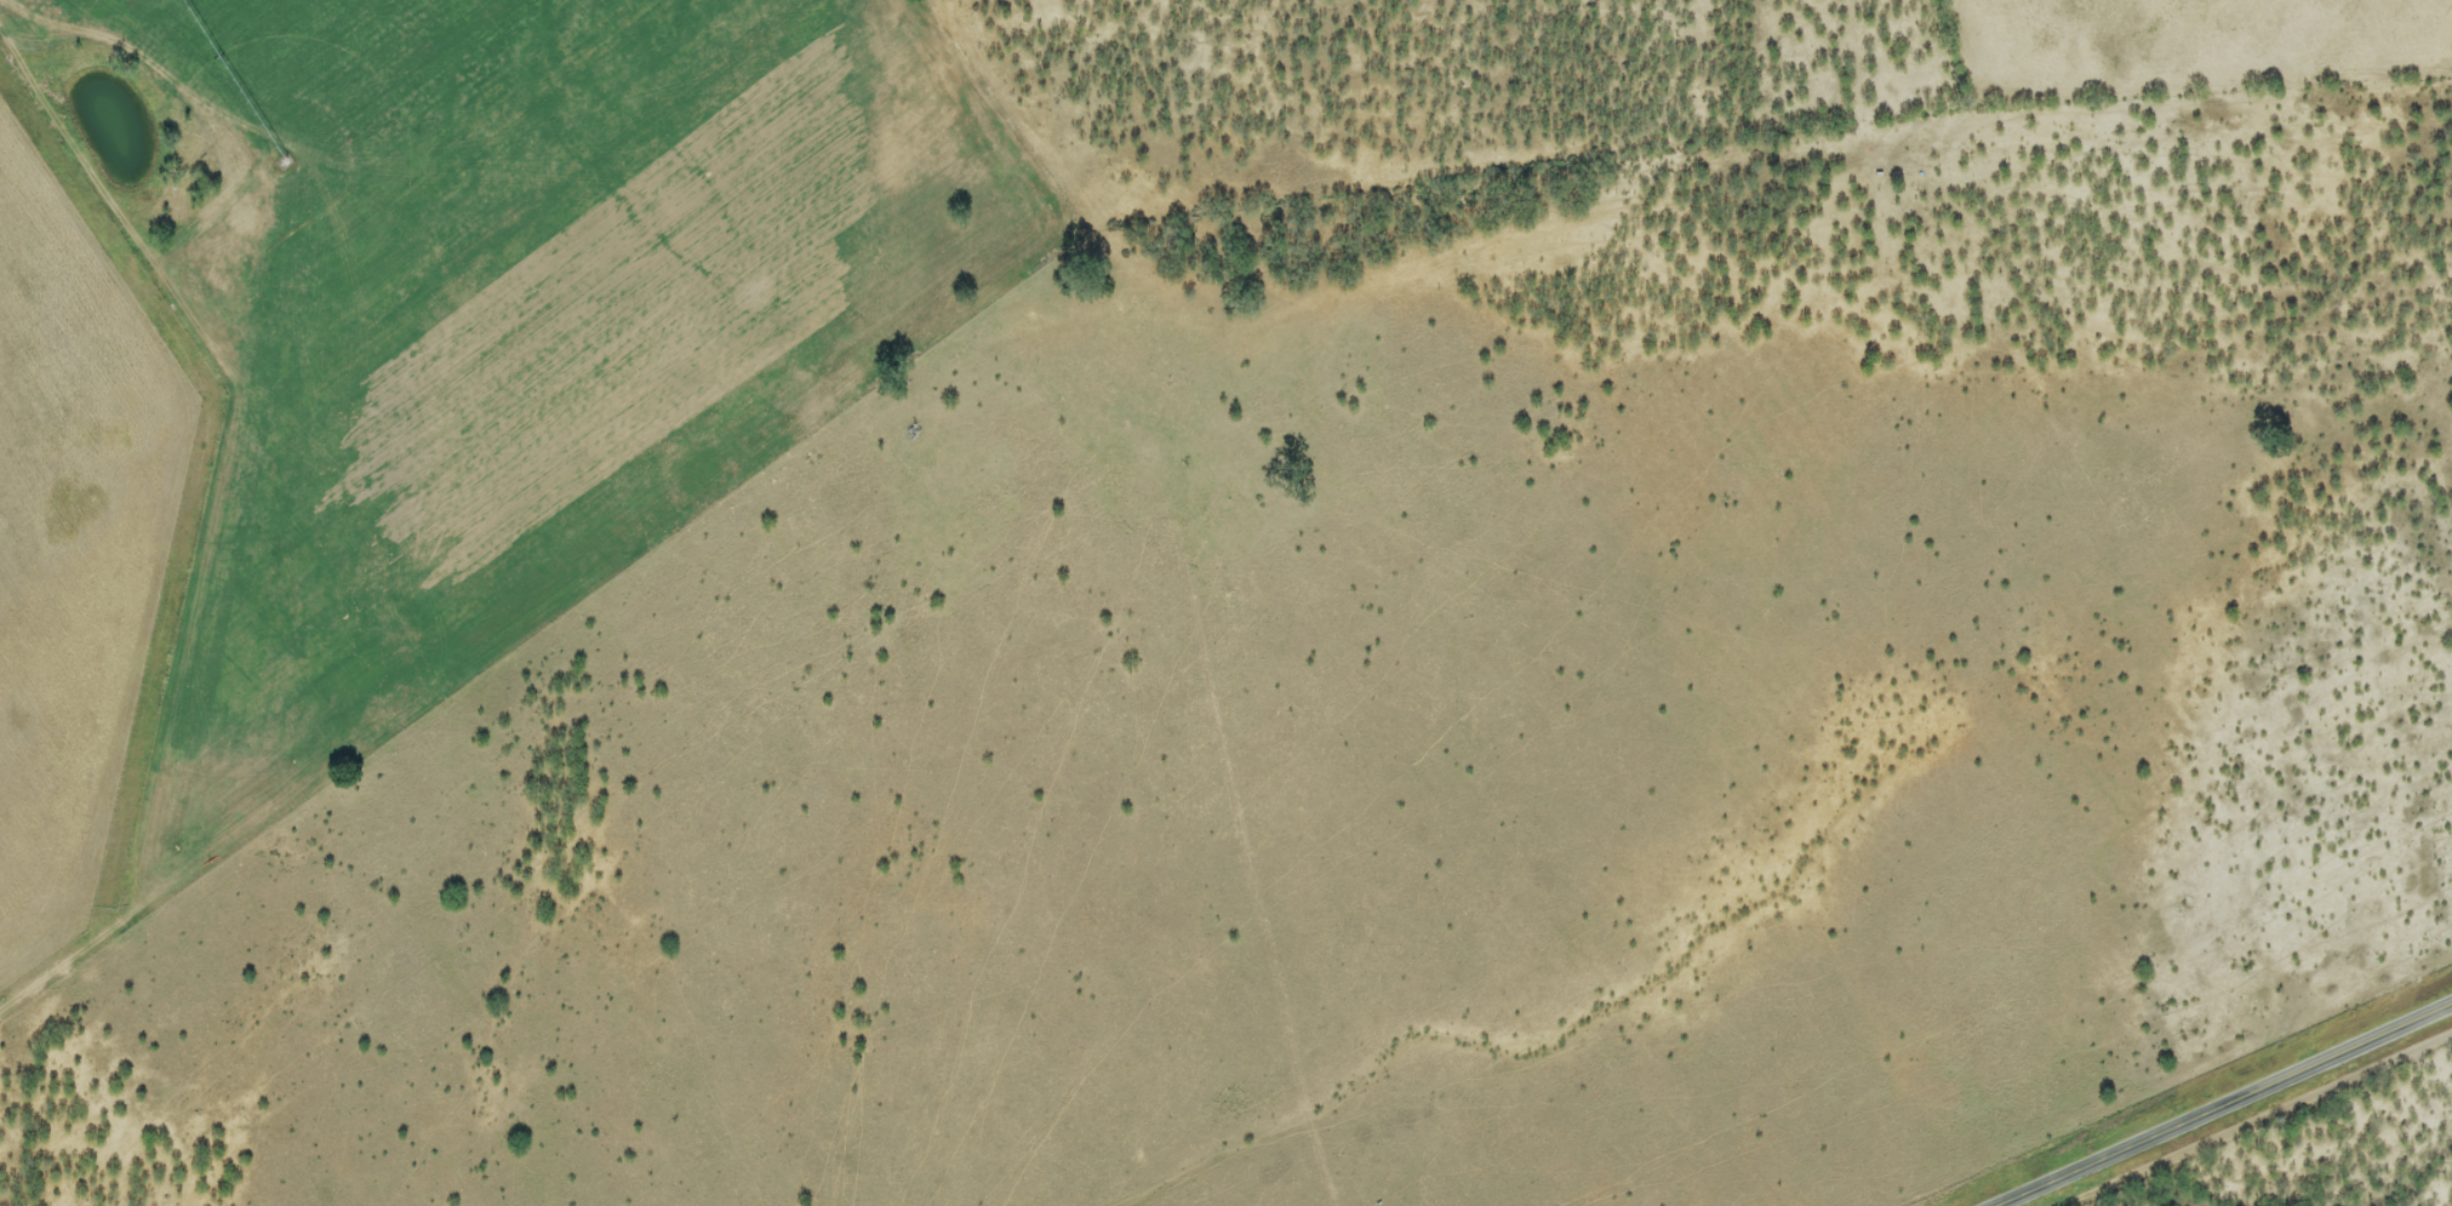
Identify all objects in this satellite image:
road: (2222, 1103)

